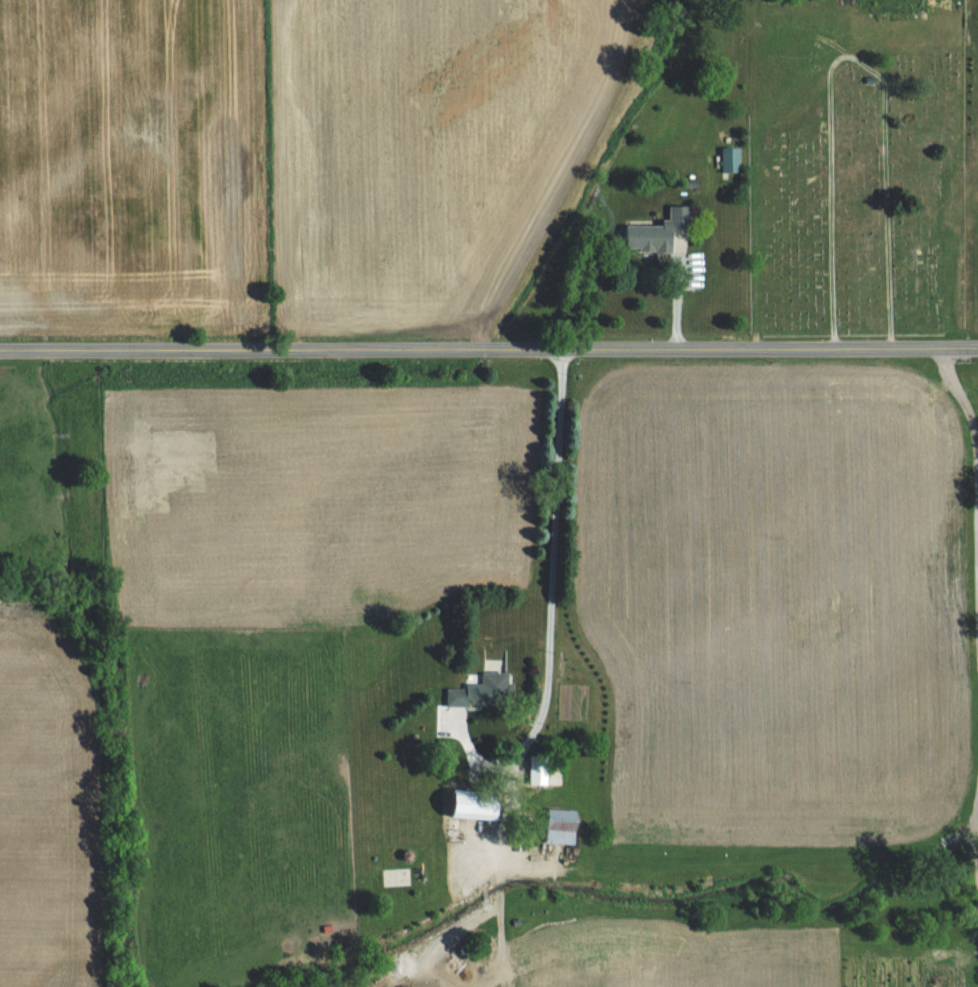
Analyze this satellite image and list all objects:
building: (732, 159)
building: (660, 231)
road: (488, 347)
road: (544, 575)
road: (974, 643)
building: (486, 690)
building: (540, 763)
building: (481, 803)
building: (563, 825)

